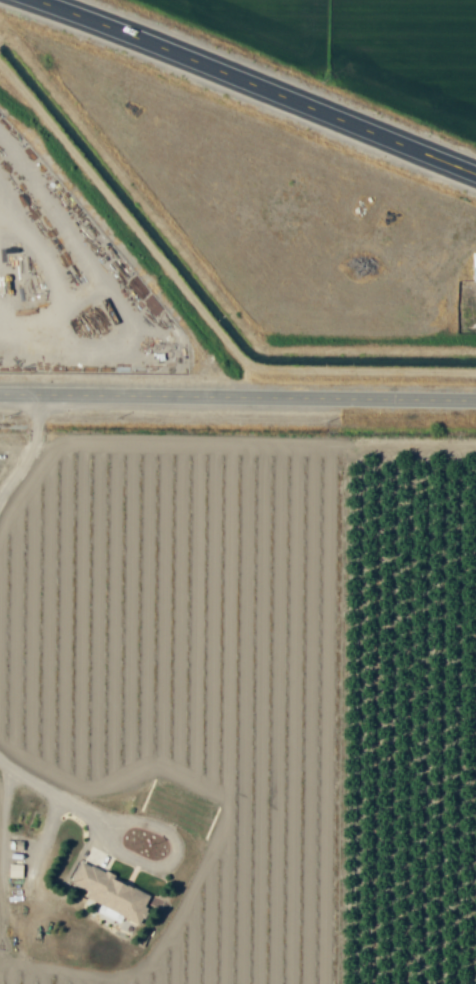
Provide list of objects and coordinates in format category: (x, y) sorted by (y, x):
road: (255, 84)
road: (237, 397)
road: (32, 450)
road: (51, 793)
building: (112, 892)

